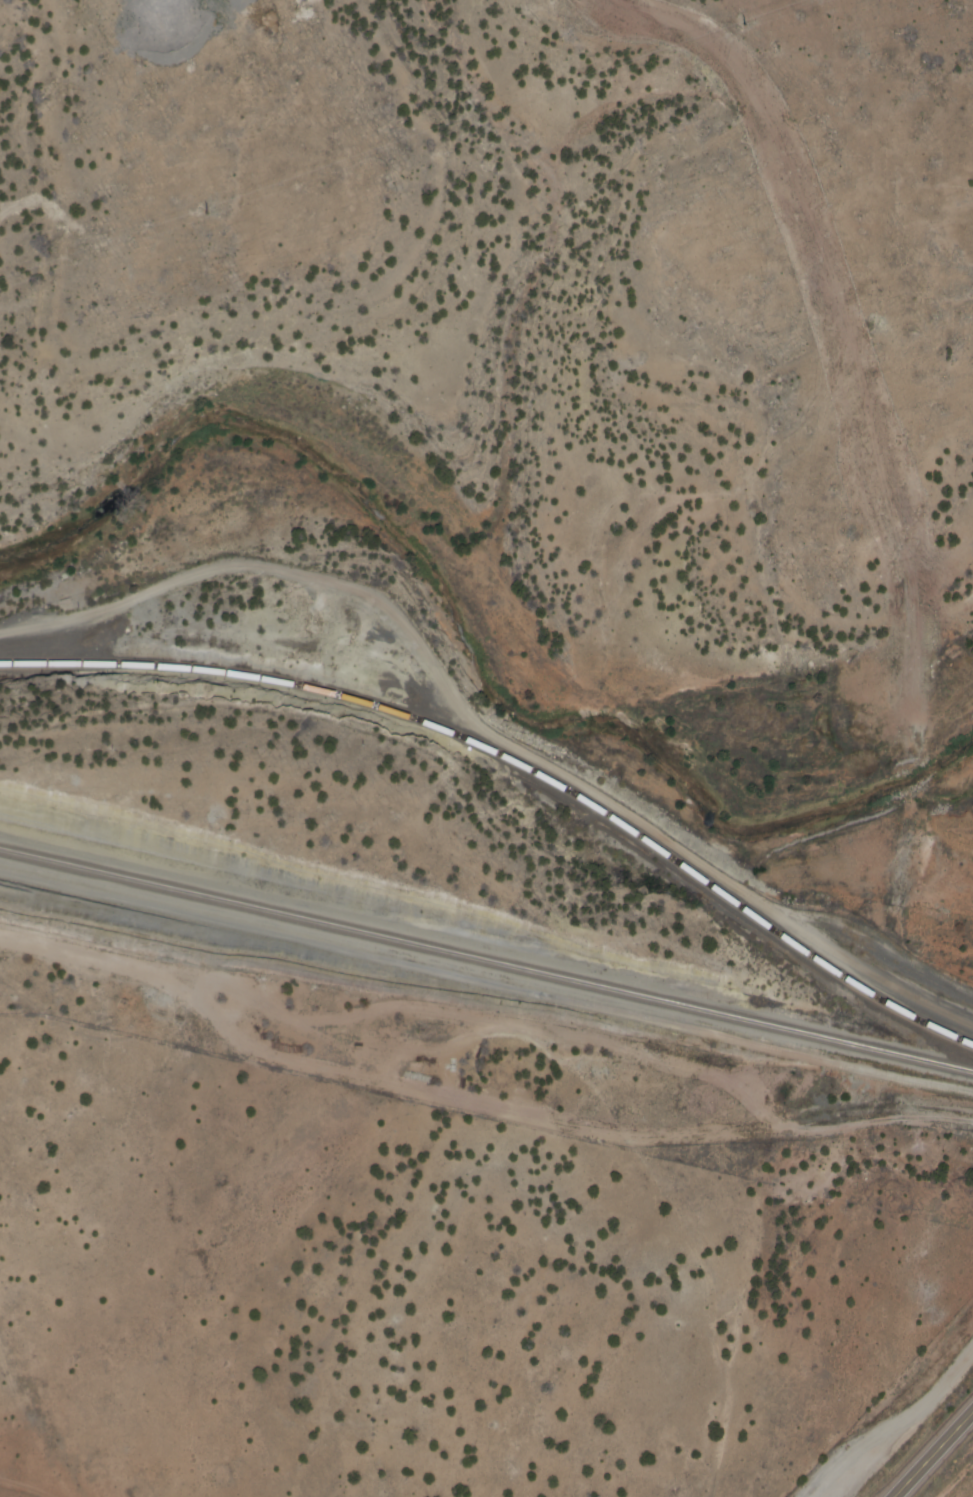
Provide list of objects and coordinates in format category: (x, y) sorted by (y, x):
quarry: (492, 149)
railway: (518, 766)
railway: (486, 963)
road: (875, 976)
road: (932, 1452)
road: (20, 1488)

